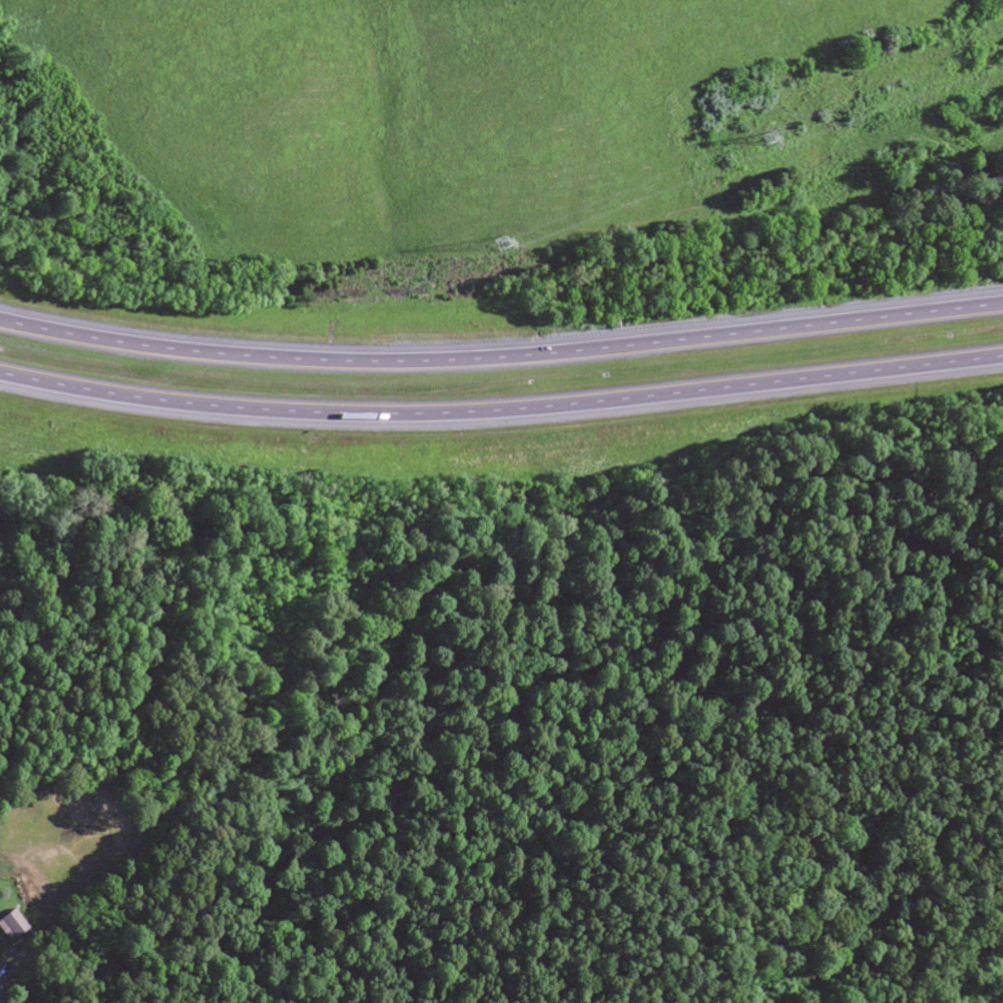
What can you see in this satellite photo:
road: (501, 358)
road: (501, 412)
road: (375, 716)
building: (13, 923)

